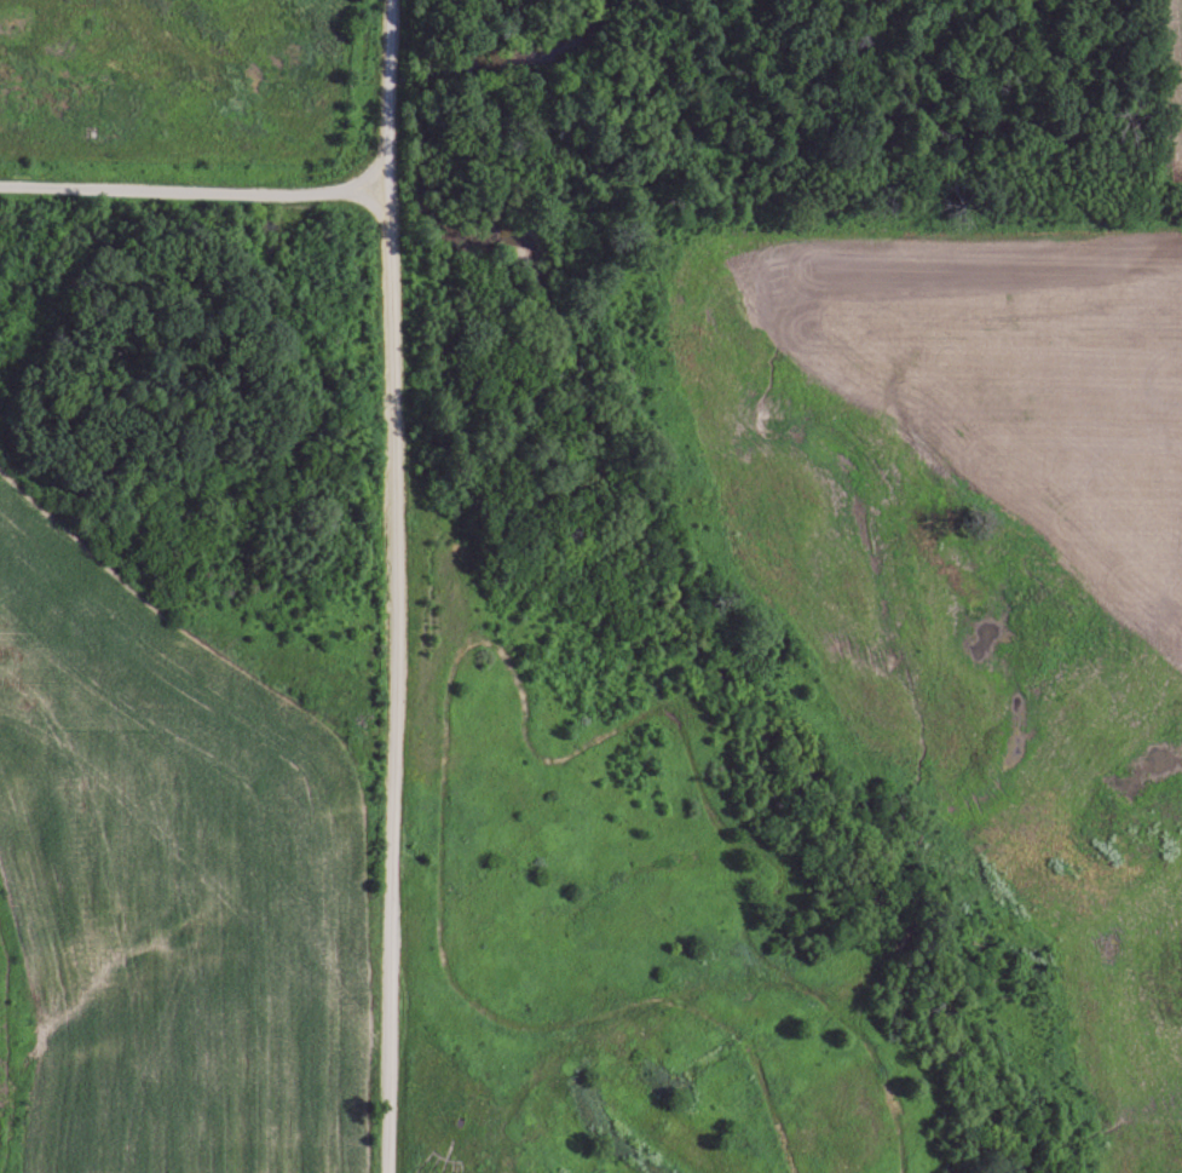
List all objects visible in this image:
road: (195, 195)
road: (387, 586)

